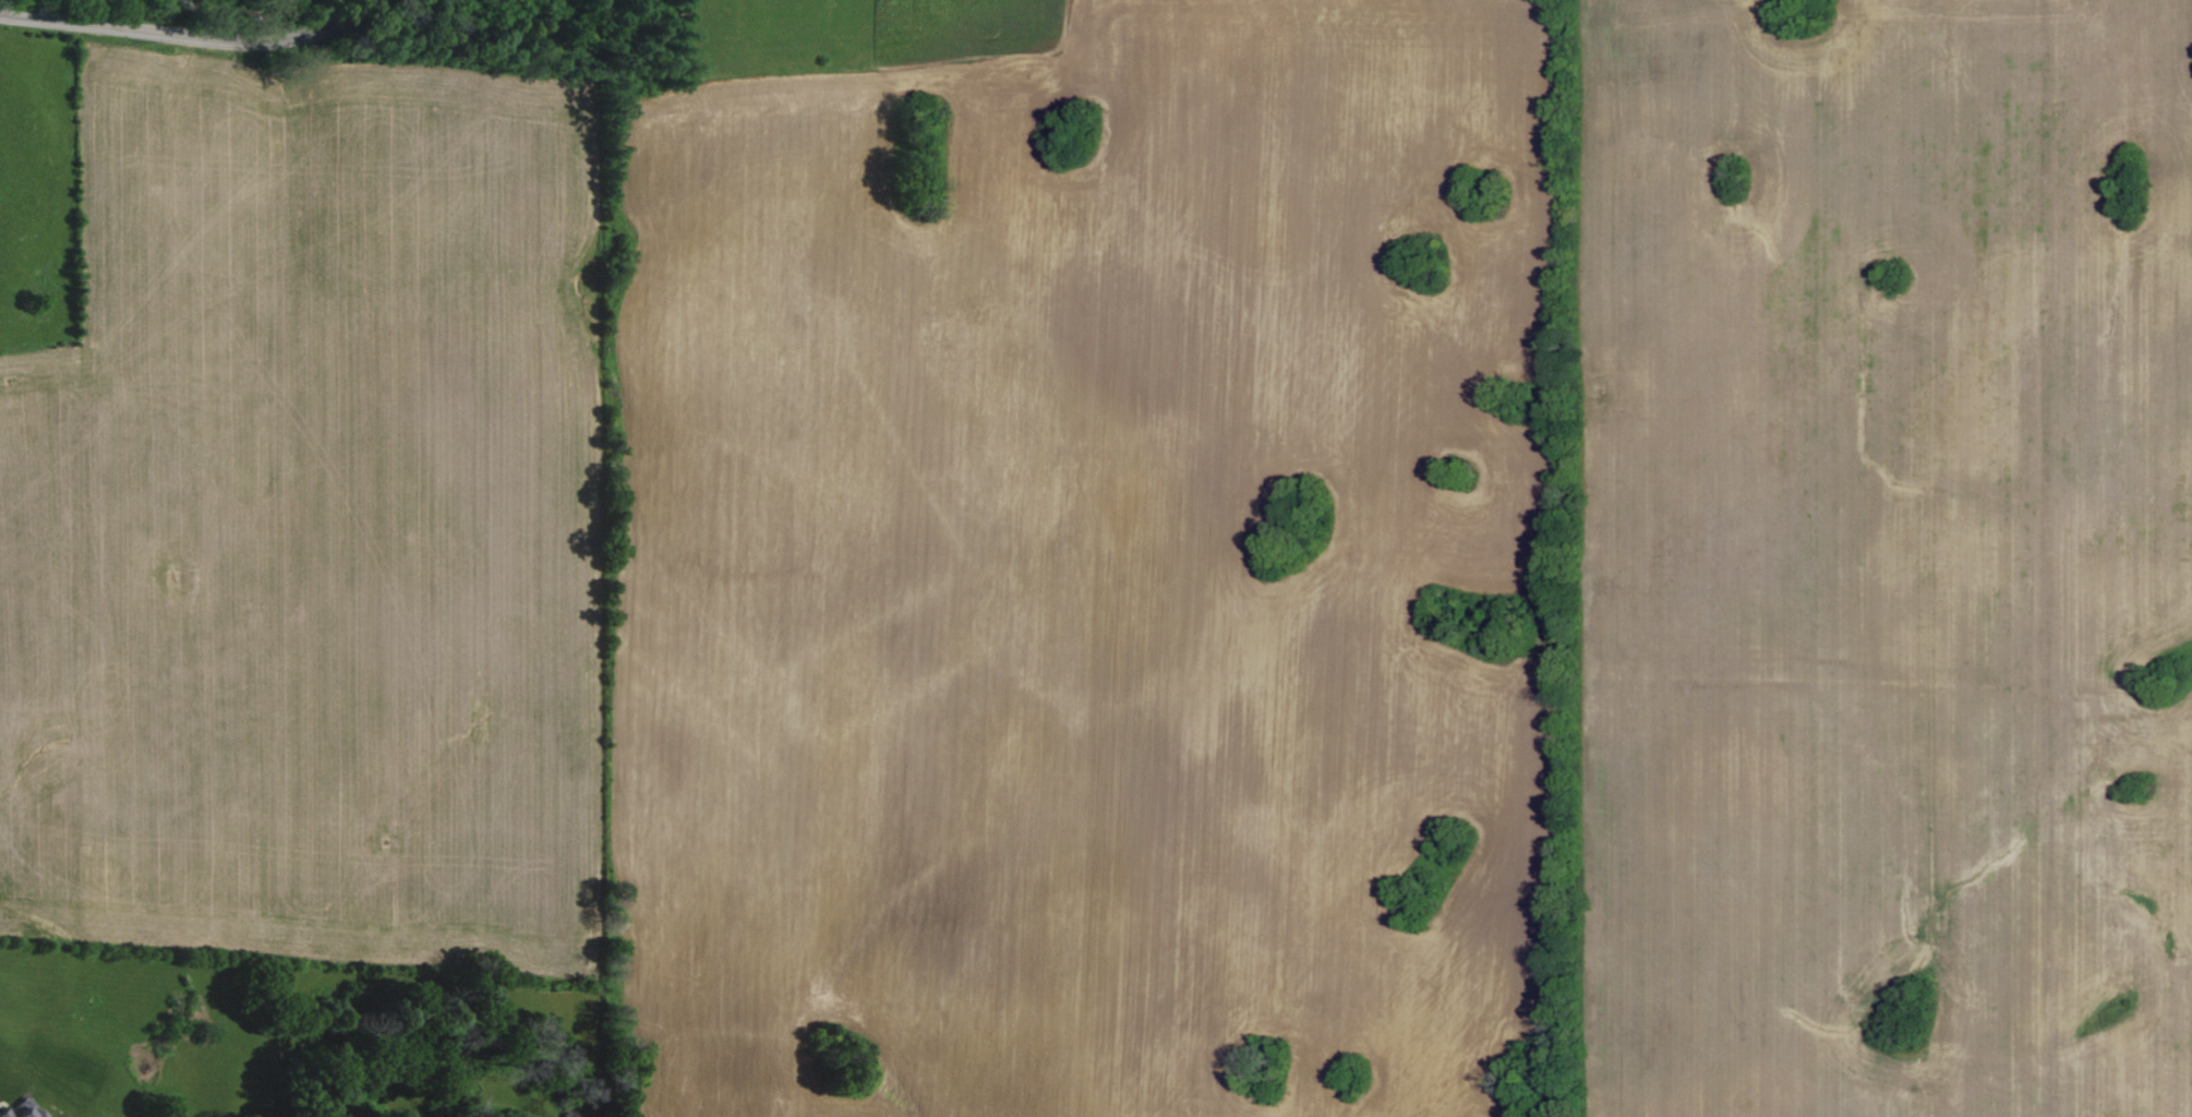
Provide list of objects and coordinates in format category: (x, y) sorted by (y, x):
road: (189, 34)
building: (25, 1109)

